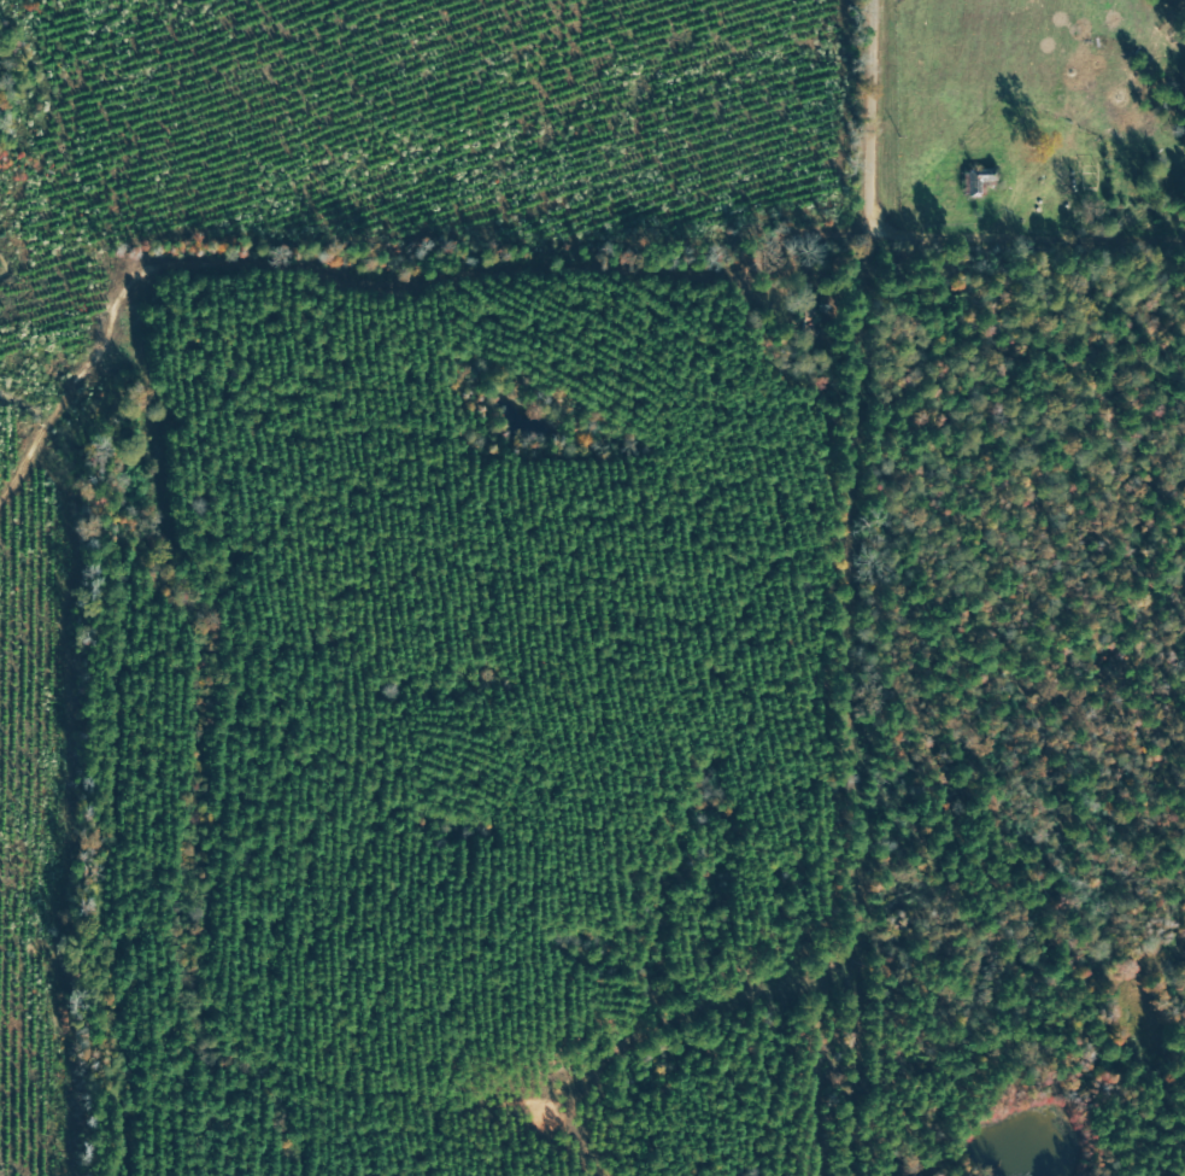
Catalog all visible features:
road: (885, 154)
road: (885, 780)

